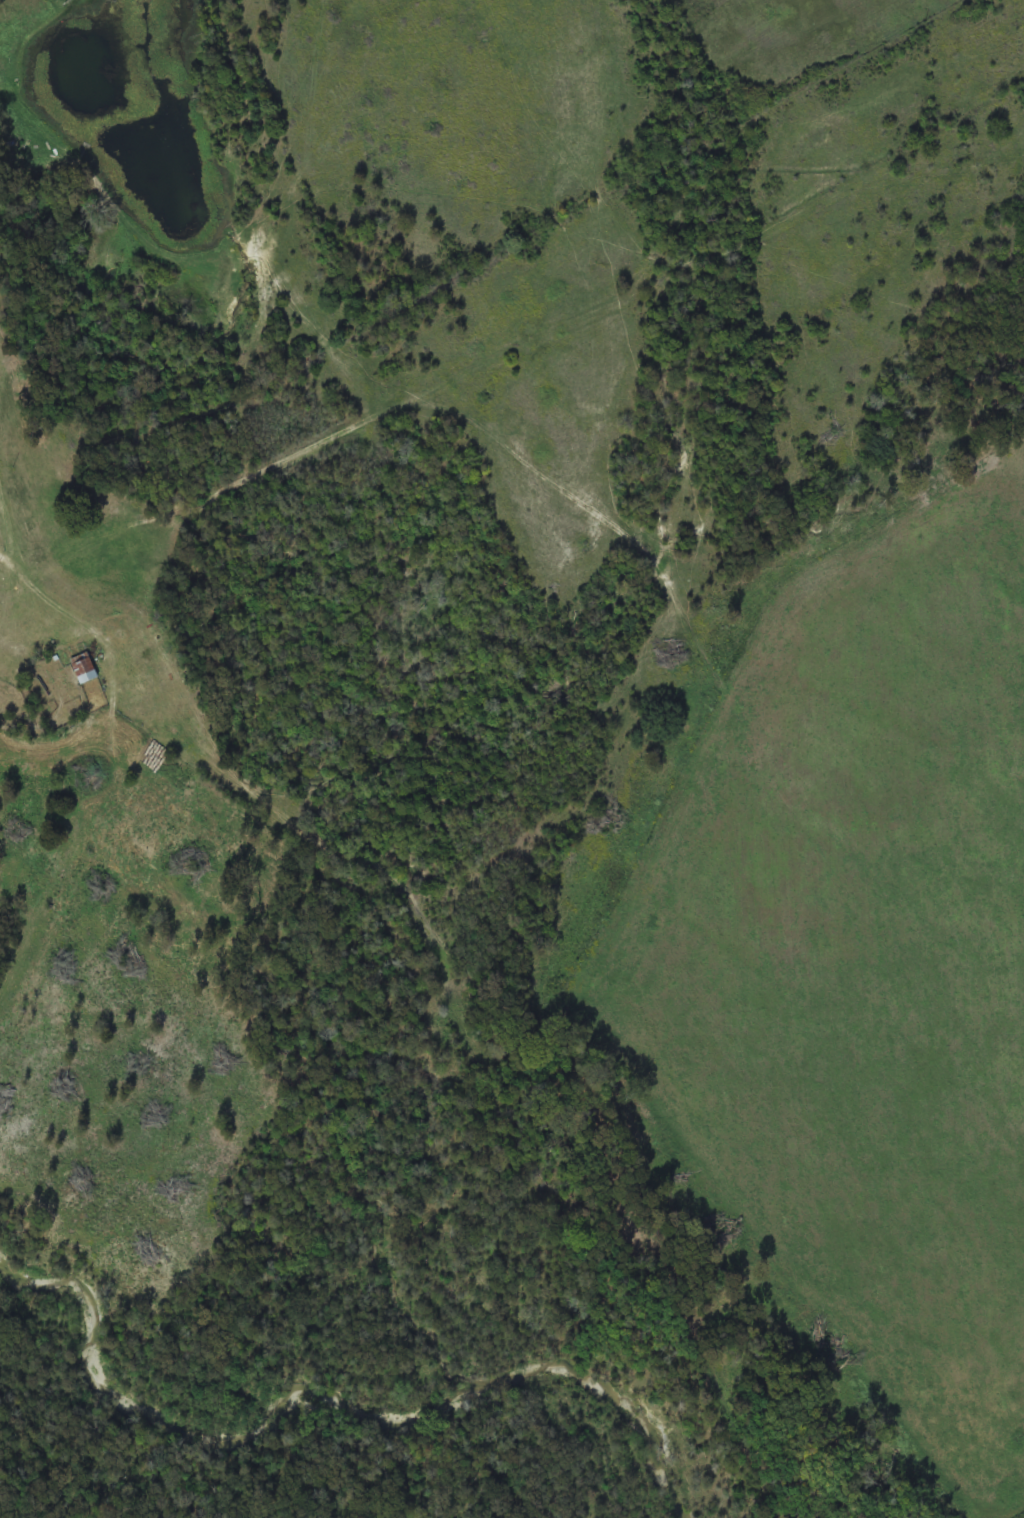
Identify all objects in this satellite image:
building: (85, 669)

